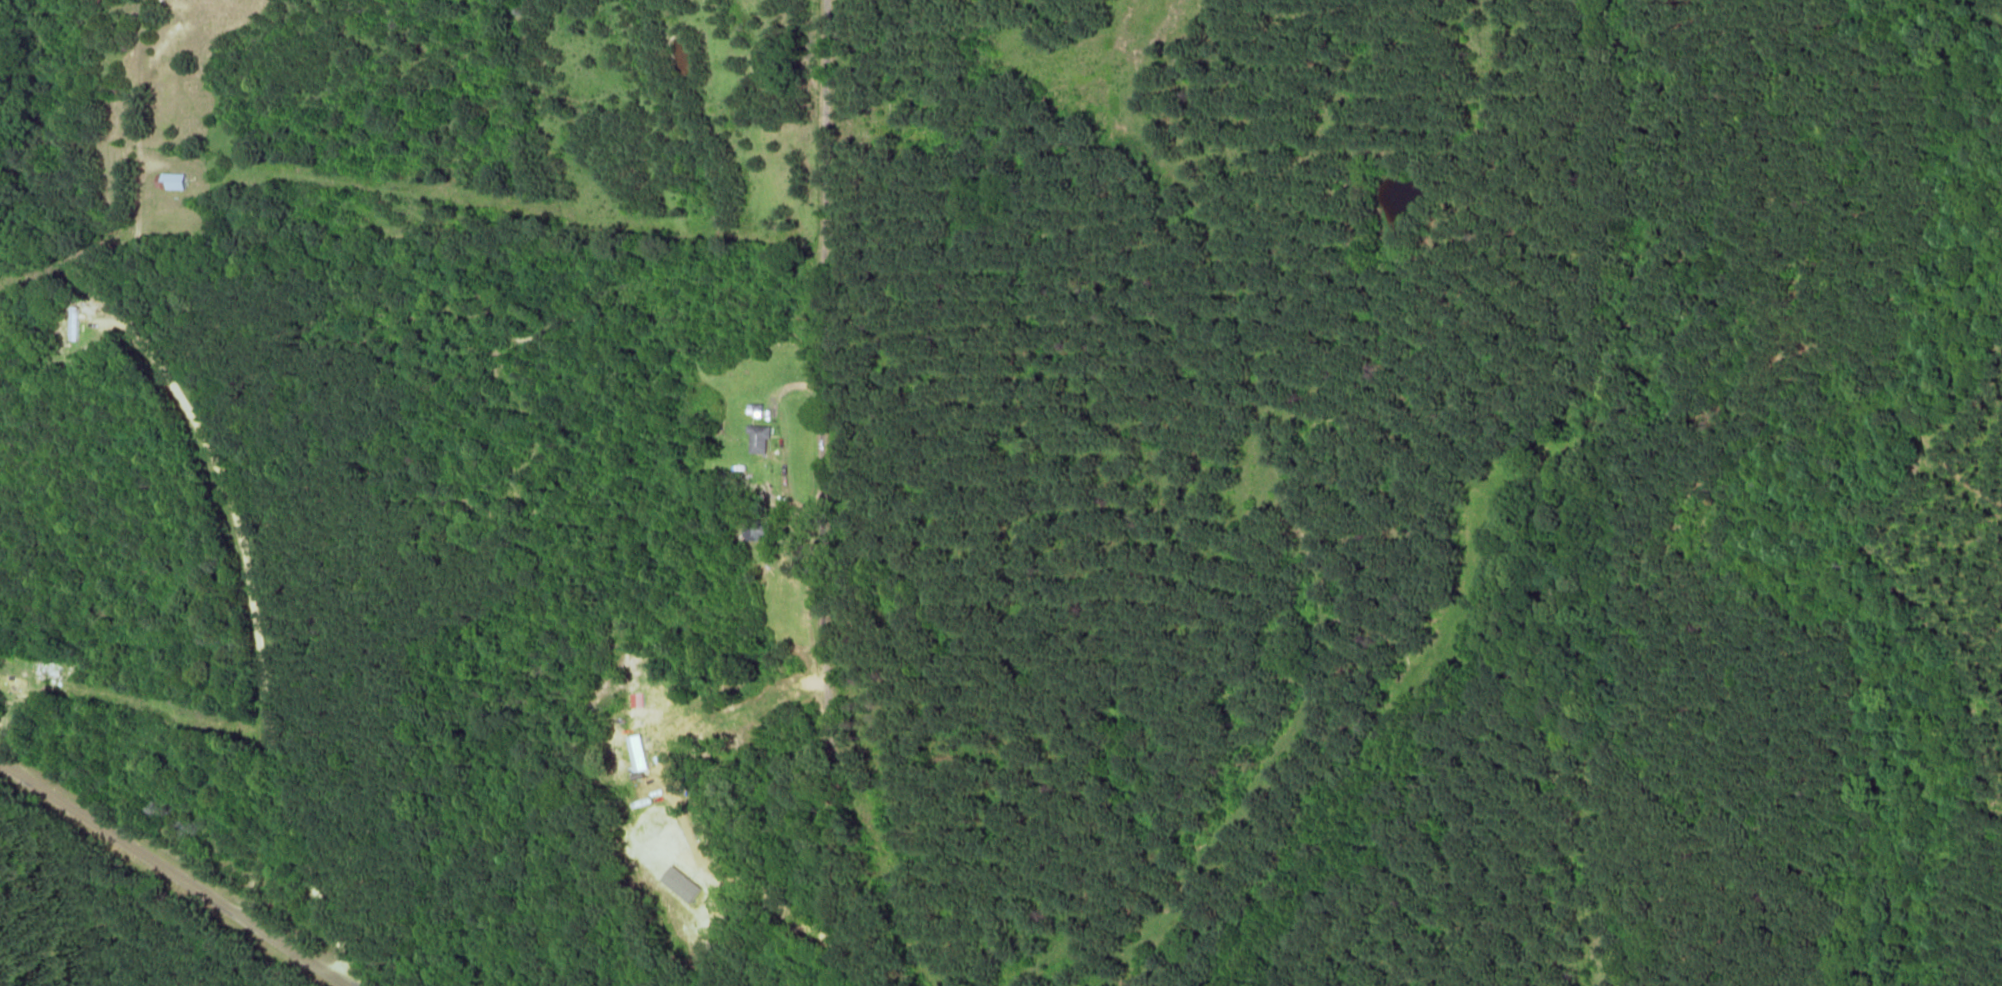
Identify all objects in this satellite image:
building: (174, 181)
building: (75, 323)
building: (758, 408)
building: (759, 440)
road: (831, 493)
building: (755, 531)
road: (257, 639)
building: (15, 681)
road: (179, 864)

